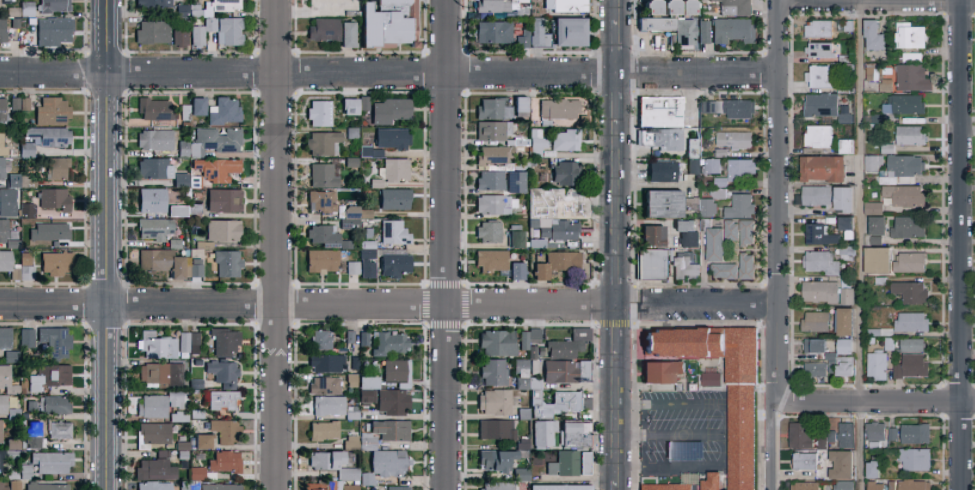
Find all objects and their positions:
building: (53, 5)
building: (226, 5)
building: (493, 5)
building: (566, 6)
building: (677, 7)
building: (734, 7)
building: (649, 8)
building: (387, 22)
road: (104, 23)
road: (446, 23)
building: (661, 23)
building: (817, 28)
building: (1, 29)
building: (323, 29)
building: (732, 30)
building: (52, 31)
building: (218, 31)
building: (152, 32)
building: (493, 32)
building: (567, 32)
building: (684, 32)
building: (703, 32)
building: (346, 34)
building: (533, 35)
building: (872, 35)
building: (908, 35)
building: (180, 36)
road: (618, 36)
building: (819, 49)
road: (40, 71)
road: (273, 71)
road: (624, 73)
road: (421, 75)
building: (818, 76)
building: (911, 77)
building: (881, 81)
road: (103, 94)
road: (618, 98)
building: (820, 104)
building: (906, 104)
building: (348, 105)
building: (519, 105)
building: (192, 107)
building: (558, 107)
building: (728, 107)
building: (153, 108)
building: (492, 108)
building: (388, 109)
building: (223, 110)
building: (319, 111)
building: (2, 113)
building: (664, 113)
building: (844, 113)
building: (53, 114)
building: (492, 130)
building: (909, 135)
building: (818, 136)
building: (390, 137)
building: (50, 138)
building: (154, 138)
building: (565, 139)
building: (734, 139)
building: (214, 140)
building: (676, 141)
building: (2, 142)
building: (322, 142)
building: (183, 147)
building: (370, 150)
road: (778, 151)
building: (494, 154)
building: (872, 163)
building: (710, 165)
building: (902, 166)
building: (154, 167)
building: (216, 168)
building: (395, 168)
building: (820, 168)
building: (3, 169)
building: (59, 170)
building: (662, 170)
building: (740, 170)
building: (565, 172)
building: (322, 175)
building: (12, 179)
building: (490, 179)
building: (514, 181)
building: (718, 182)
road: (618, 186)
building: (716, 194)
building: (815, 195)
building: (902, 195)
building: (393, 198)
building: (841, 198)
building: (151, 199)
building: (223, 199)
building: (320, 200)
building: (56, 201)
building: (661, 201)
building: (8, 204)
building: (494, 204)
building: (739, 206)
building: (561, 207)
building: (706, 207)
building: (872, 208)
building: (26, 209)
building: (176, 210)
building: (349, 216)
building: (844, 222)
building: (876, 225)
building: (908, 226)
building: (153, 228)
building: (222, 229)
building: (488, 230)
building: (561, 230)
building: (730, 230)
building: (393, 231)
building: (745, 232)
building: (4, 233)
building: (56, 233)
building: (323, 234)
building: (652, 234)
building: (819, 234)
building: (515, 238)
building: (687, 238)
building: (345, 243)
road: (275, 244)
building: (713, 244)
road: (858, 244)
road: (960, 244)
building: (491, 259)
building: (876, 259)
building: (320, 260)
building: (160, 261)
building: (227, 262)
building: (819, 262)
building: (909, 262)
building: (559, 263)
building: (7, 264)
building: (393, 264)
building: (58, 265)
building: (656, 265)
building: (745, 265)
building: (352, 266)
building: (25, 267)
building: (367, 268)
building: (195, 269)
building: (515, 269)
building: (722, 270)
road: (618, 275)
building: (818, 291)
building: (909, 291)
road: (105, 292)
road: (444, 293)
building: (845, 295)
road: (388, 302)
building: (843, 320)
building: (814, 321)
building: (910, 321)
road: (618, 328)
building: (534, 333)
building: (4, 336)
building: (26, 337)
building: (363, 337)
building: (319, 338)
building: (523, 339)
building: (54, 340)
building: (188, 341)
building: (224, 341)
building: (389, 342)
building: (499, 342)
building: (911, 344)
building: (156, 345)
building: (814, 345)
building: (843, 346)
building: (565, 350)
road: (775, 352)
building: (11, 356)
building: (325, 362)
building: (830, 362)
building: (843, 365)
building: (876, 365)
building: (911, 365)
building: (395, 369)
building: (815, 369)
building: (660, 370)
building: (493, 371)
building: (222, 372)
building: (570, 372)
building: (161, 373)
building: (49, 376)
building: (7, 380)
building: (366, 381)
building: (714, 381)
building: (324, 384)
building: (363, 395)
building: (175, 398)
building: (222, 399)
building: (392, 401)
building: (493, 401)
building: (570, 402)
road: (872, 402)
building: (55, 403)
road: (684, 403)
building: (328, 404)
building: (152, 405)
building: (543, 407)
building: (744, 407)
building: (7, 408)
road: (619, 418)
building: (0, 420)
building: (496, 428)
building: (59, 429)
building: (323, 429)
building: (390, 429)
building: (225, 430)
building: (874, 430)
building: (154, 432)
building: (547, 433)
building: (891, 433)
building: (913, 433)
building: (845, 434)
road: (669, 435)
building: (800, 435)
building: (32, 437)
building: (579, 437)
building: (825, 438)
building: (202, 440)
building: (366, 441)
building: (12, 443)
building: (873, 444)
road: (769, 446)
building: (683, 450)
building: (325, 458)
building: (495, 458)
building: (914, 459)
building: (0, 460)
building: (224, 460)
building: (804, 461)
building: (51, 462)
building: (387, 462)
building: (583, 462)
building: (588, 464)
building: (840, 464)
building: (567, 466)
road: (681, 466)
building: (155, 467)
building: (871, 469)
building: (24, 471)
building: (197, 472)
building: (519, 473)
building: (350, 474)
building: (13, 484)
building: (3, 485)
building: (153, 485)
building: (330, 485)
building: (496, 485)
road: (618, 485)
building: (842, 485)
building: (913, 485)
building: (45, 486)
building: (219, 486)
building: (557, 486)
building: (803, 486)
building: (873, 486)
building: (396, 487)
building: (670, 488)

